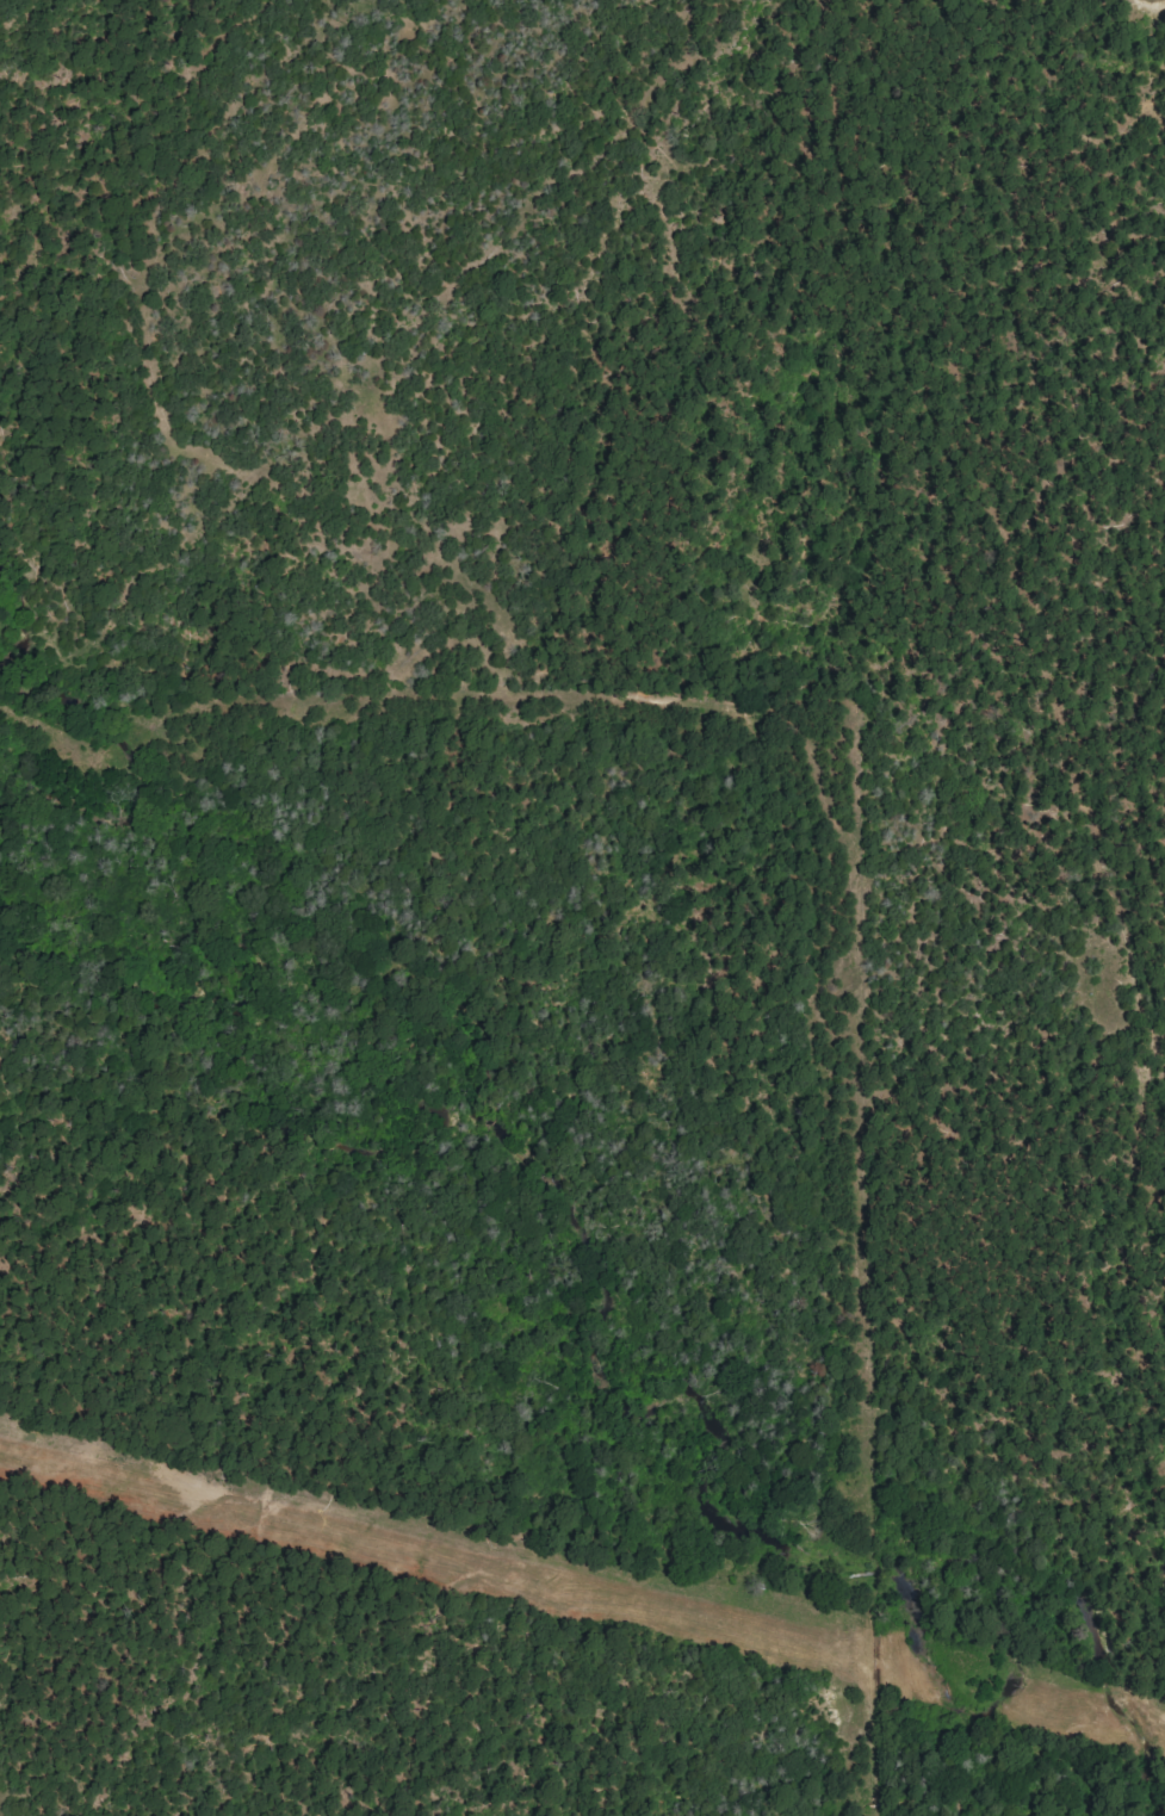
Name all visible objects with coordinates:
road: (504, 300)

